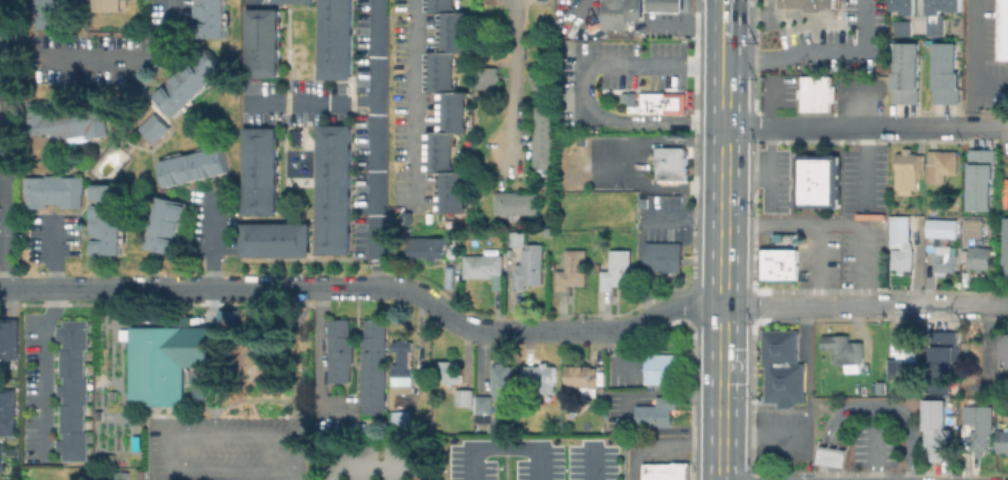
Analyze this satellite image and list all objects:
building: (292, 1)
building: (808, 4)
building: (942, 4)
building: (111, 5)
building: (666, 5)
building: (895, 5)
building: (952, 5)
building: (906, 7)
building: (931, 7)
building: (43, 13)
building: (622, 13)
building: (209, 18)
building: (932, 26)
road: (725, 27)
building: (900, 27)
building: (1004, 29)
building: (335, 39)
building: (261, 42)
road: (974, 43)
road: (126, 49)
road: (813, 49)
road: (628, 61)
road: (725, 67)
building: (4, 71)
building: (947, 74)
building: (907, 75)
building: (485, 77)
building: (540, 78)
building: (188, 81)
road: (511, 82)
building: (818, 92)
road: (412, 93)
building: (665, 102)
building: (449, 105)
road: (655, 119)
building: (62, 121)
road: (374, 122)
building: (152, 127)
road: (866, 128)
building: (541, 137)
building: (672, 162)
building: (908, 162)
road: (769, 163)
road: (864, 165)
building: (192, 166)
building: (943, 166)
building: (259, 171)
building: (820, 180)
building: (982, 180)
building: (333, 188)
building: (52, 191)
building: (1004, 192)
building: (514, 202)
building: (105, 219)
road: (811, 222)
building: (165, 225)
building: (943, 227)
building: (974, 229)
building: (899, 230)
building: (519, 238)
building: (274, 239)
road: (207, 240)
road: (858, 243)
building: (426, 249)
building: (1007, 249)
road: (54, 255)
building: (664, 256)
building: (980, 259)
building: (904, 261)
building: (945, 261)
building: (779, 263)
building: (530, 267)
building: (486, 268)
building: (574, 269)
building: (618, 270)
road: (723, 280)
road: (10, 287)
road: (178, 287)
road: (948, 304)
road: (770, 305)
road: (853, 305)
road: (445, 313)
road: (653, 313)
building: (225, 317)
road: (572, 332)
building: (8, 339)
building: (1003, 345)
building: (337, 349)
building: (845, 349)
building: (903, 358)
building: (944, 360)
building: (165, 361)
building: (1007, 364)
building: (371, 366)
road: (43, 367)
building: (403, 367)
building: (783, 367)
building: (664, 370)
building: (449, 372)
building: (503, 378)
building: (541, 378)
building: (585, 378)
building: (197, 384)
building: (74, 389)
building: (464, 397)
building: (484, 404)
road: (867, 406)
building: (6, 411)
building: (658, 412)
building: (399, 419)
building: (939, 432)
road: (230, 436)
building: (981, 440)
building: (1002, 440)
road: (498, 449)
building: (0, 453)
building: (833, 457)
road: (592, 464)
road: (374, 469)
building: (667, 471)

